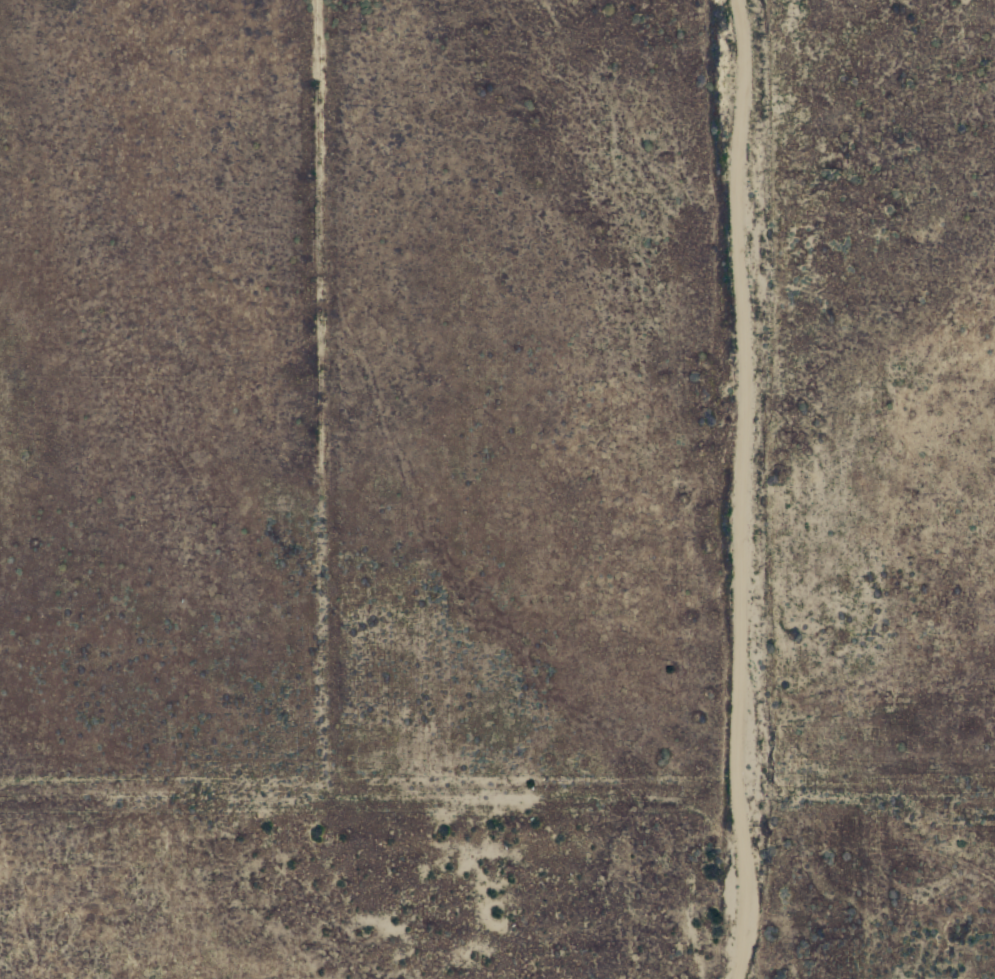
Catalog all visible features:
road: (323, 391)
road: (732, 491)
road: (500, 779)

